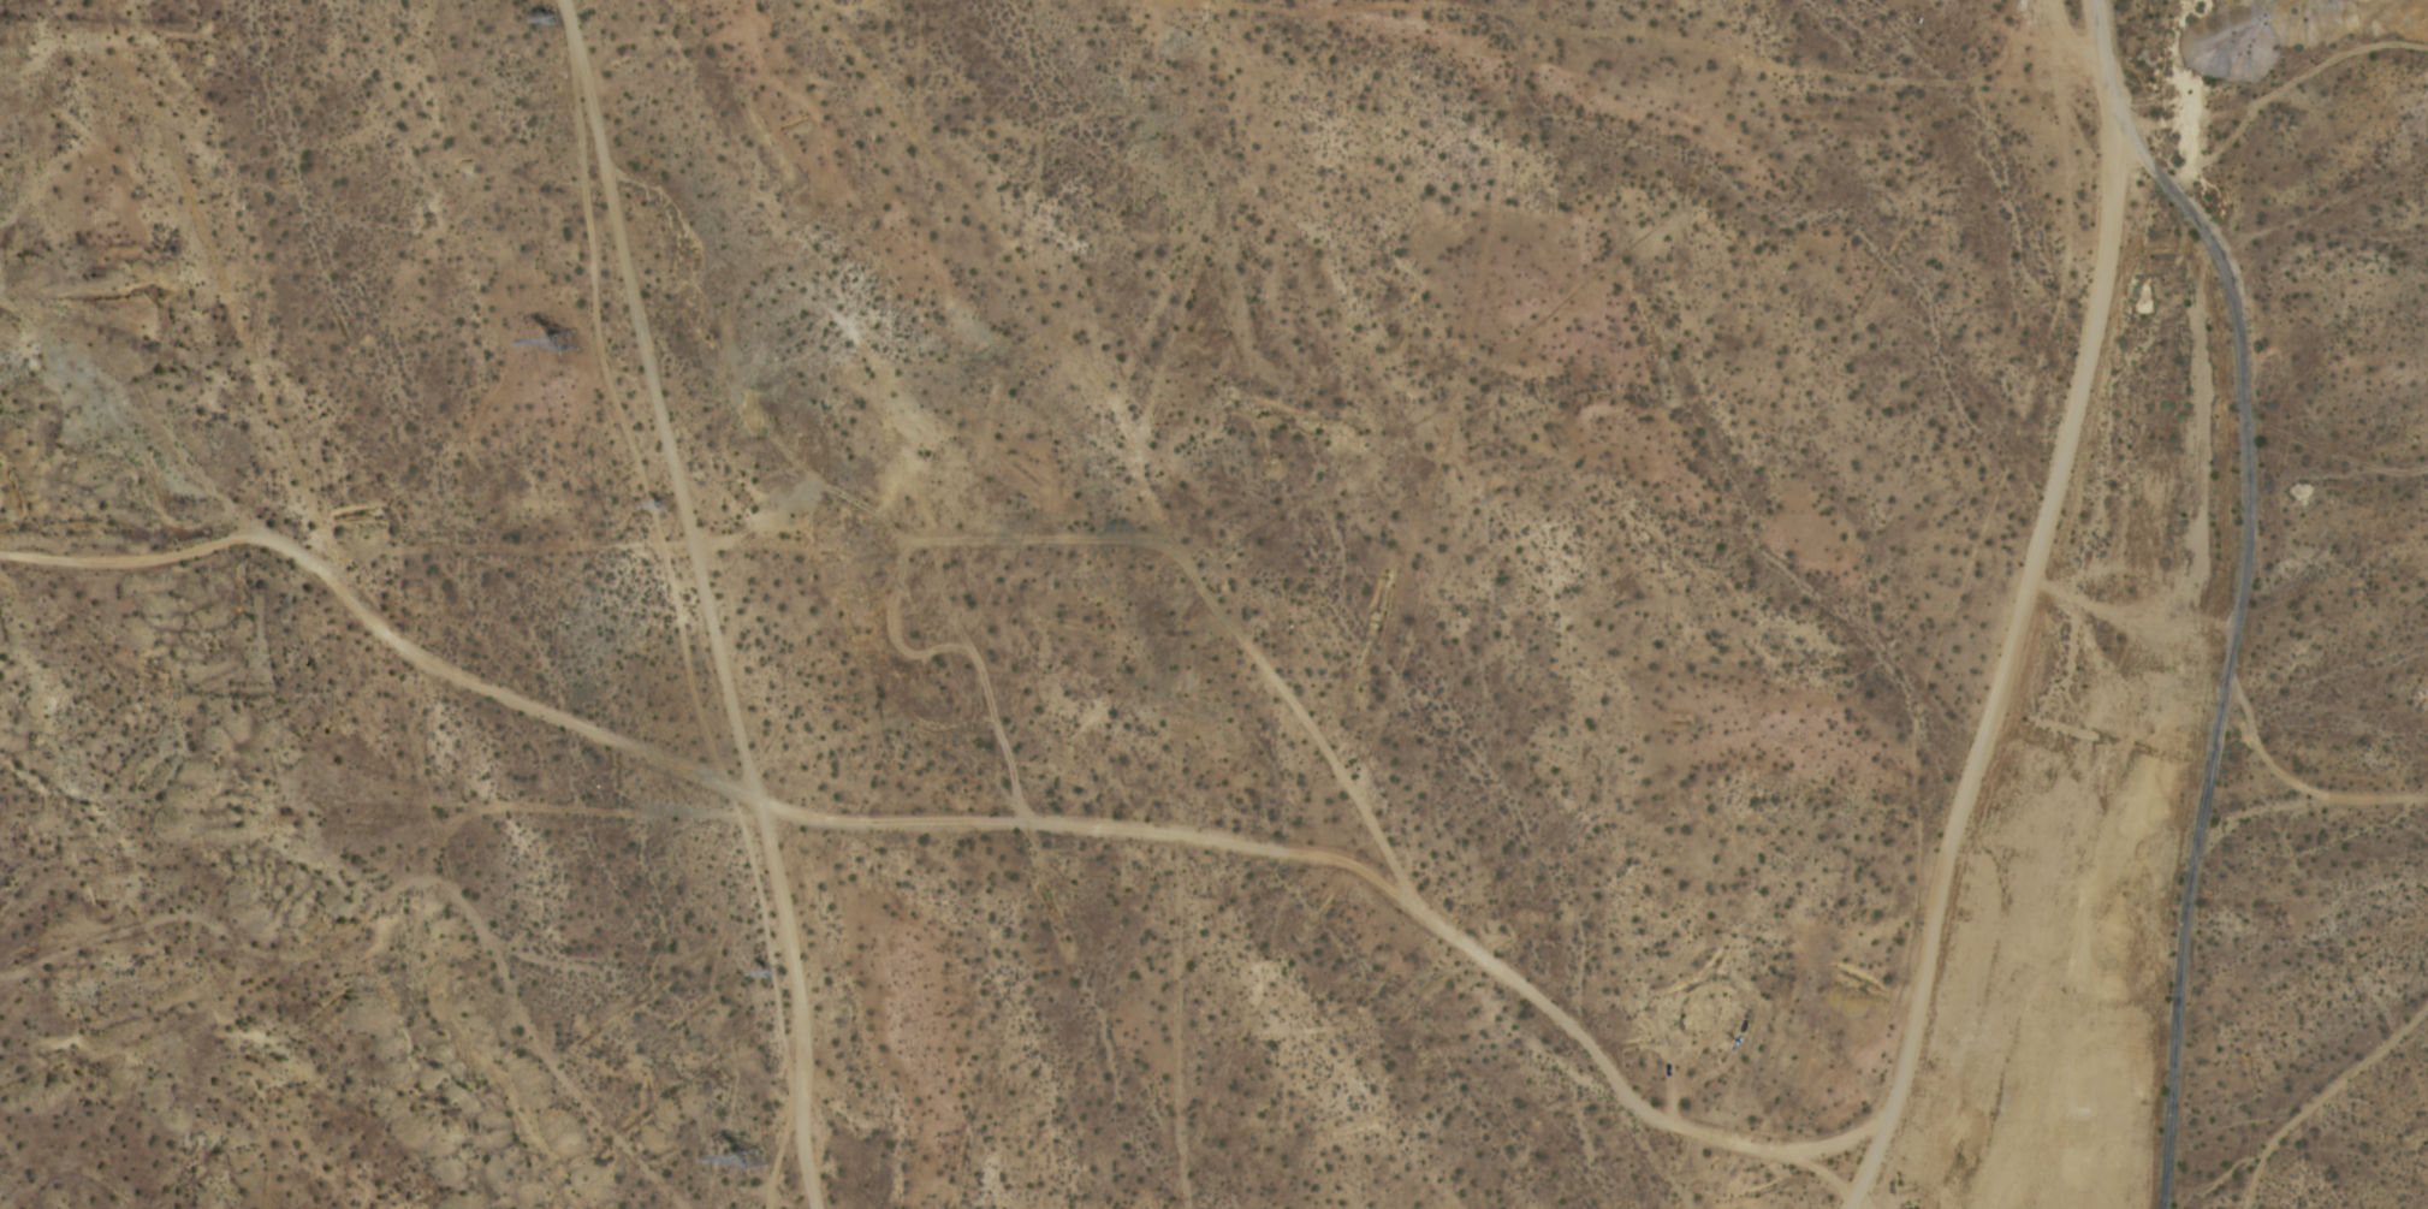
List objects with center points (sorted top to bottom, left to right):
power tower: (556, 25)
road: (2105, 66)
crop: (2209, 115)
power tower: (569, 350)
building: (2237, 377)
power tower: (671, 510)
road: (706, 601)
road: (380, 632)
road: (2218, 654)
road: (2002, 672)
crop: (2224, 949)
power tower: (777, 979)
power tower: (759, 1164)

